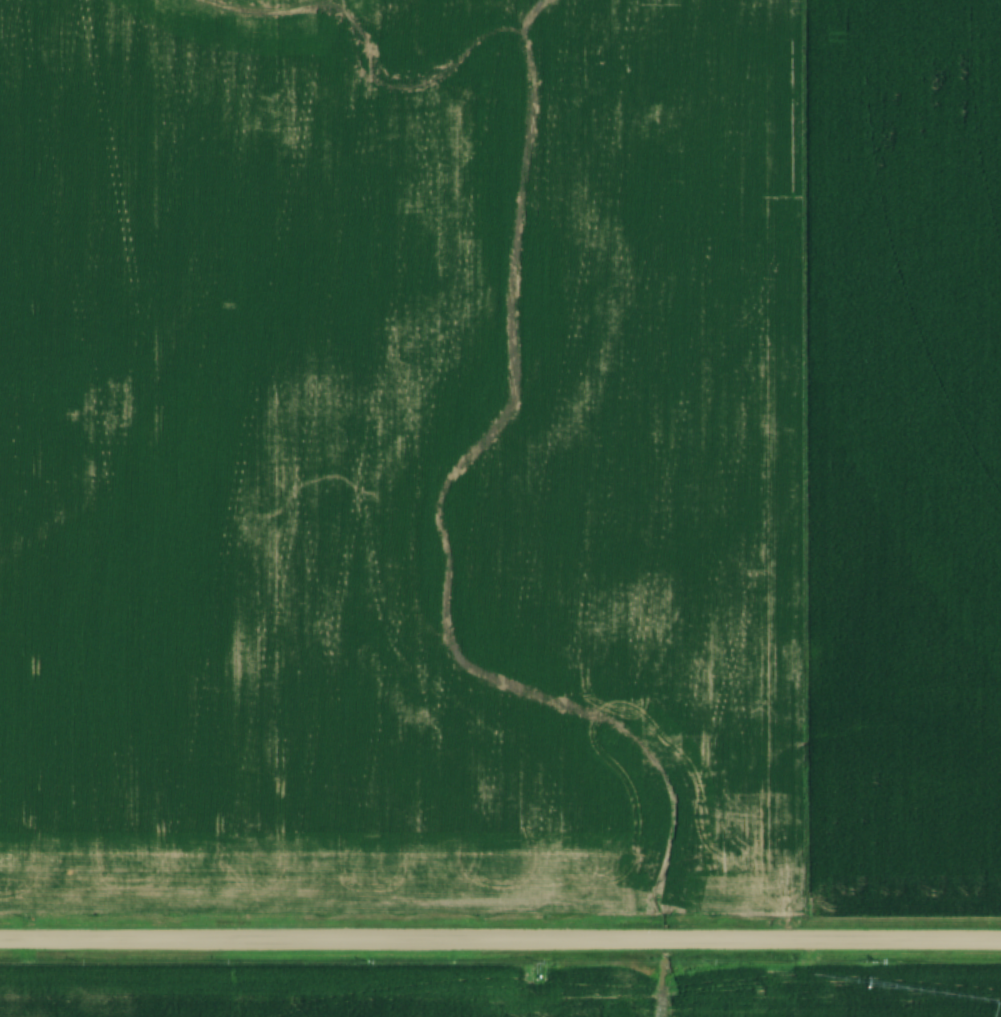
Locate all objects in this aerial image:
road: (500, 942)

